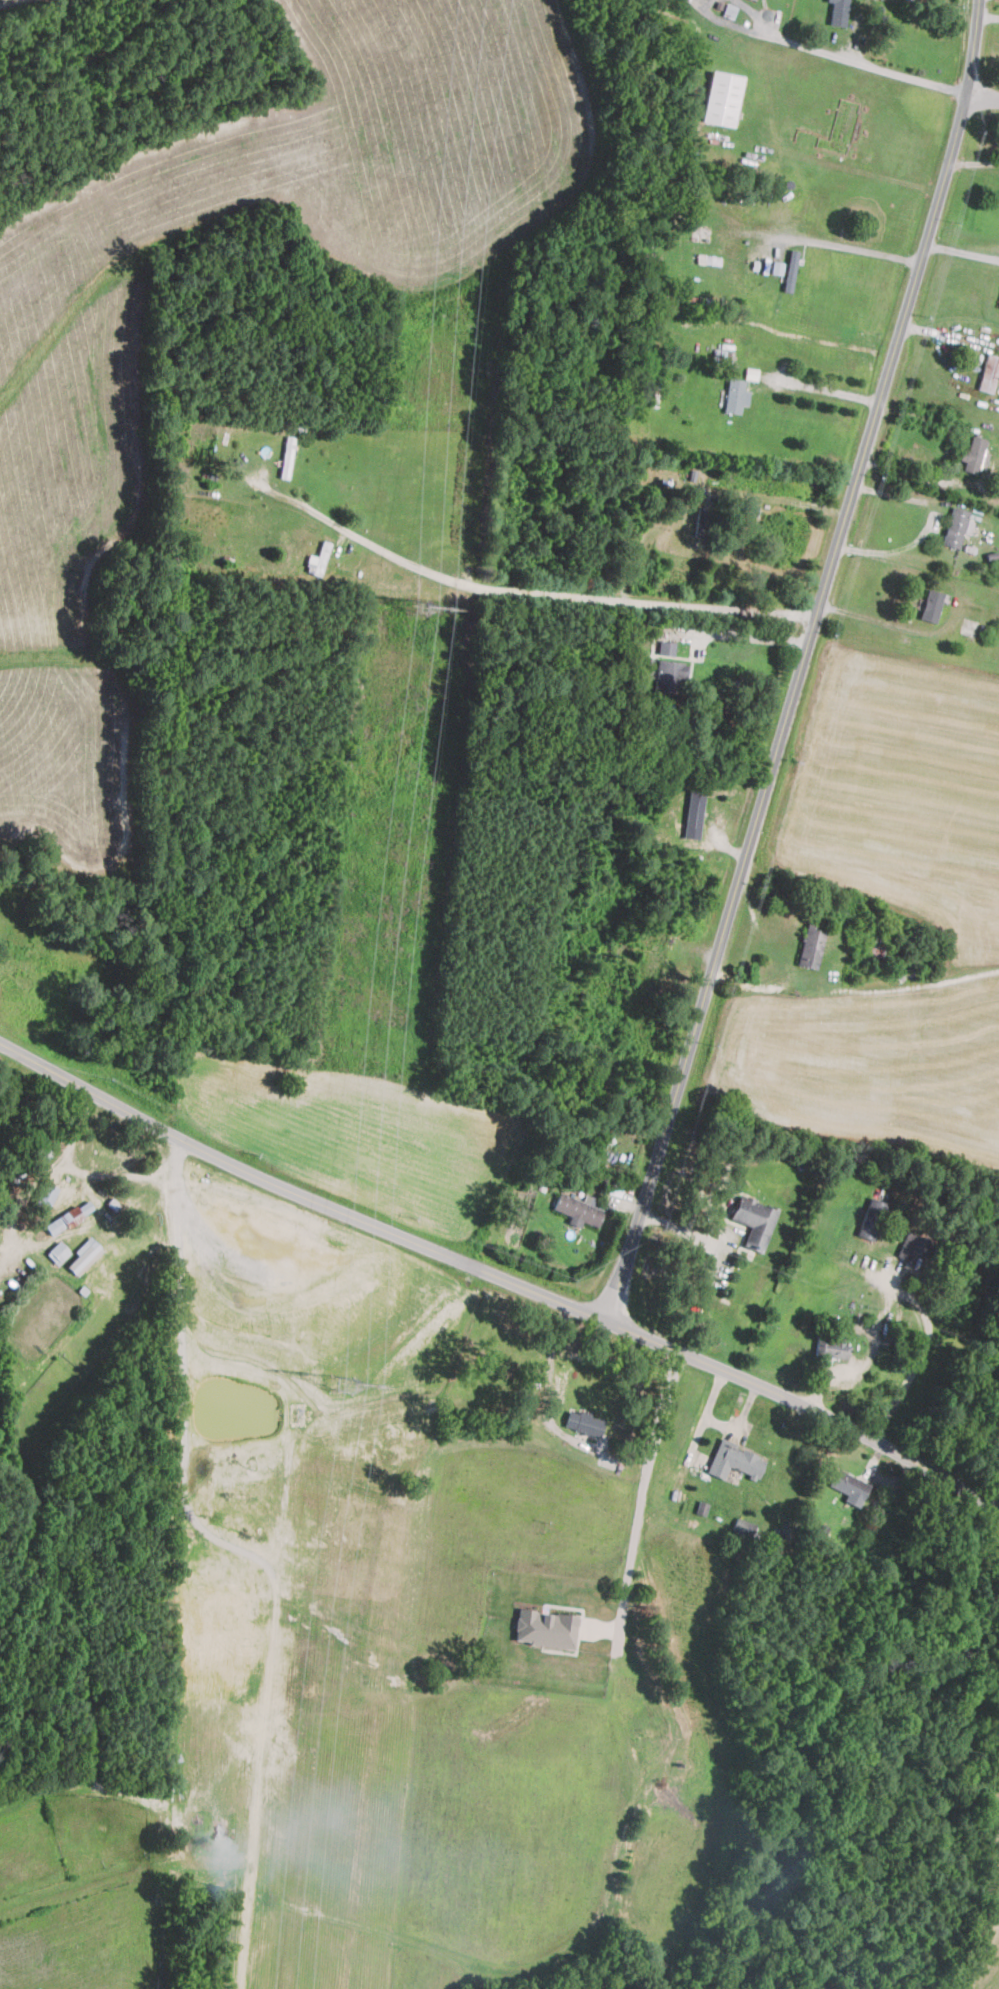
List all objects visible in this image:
building: (754, 0)
building: (839, 12)
road: (725, 21)
road: (880, 66)
building: (722, 98)
road: (857, 250)
road: (963, 251)
building: (790, 269)
building: (989, 372)
road: (825, 391)
building: (735, 395)
building: (974, 454)
road: (910, 472)
road: (930, 522)
building: (956, 526)
road: (356, 536)
building: (318, 559)
road: (631, 601)
building: (931, 605)
power tower: (417, 607)
road: (890, 626)
building: (666, 647)
road: (805, 662)
building: (668, 674)
building: (694, 813)
building: (811, 945)
road: (825, 994)
building: (46, 1194)
building: (86, 1206)
building: (578, 1208)
building: (871, 1218)
building: (754, 1220)
building: (59, 1222)
building: (913, 1244)
building: (57, 1251)
building: (84, 1255)
road: (499, 1274)
building: (834, 1340)
road: (921, 1354)
power tower: (346, 1386)
building: (584, 1422)
building: (734, 1460)
building: (848, 1485)
road: (640, 1495)
building: (784, 1533)
building: (545, 1628)

